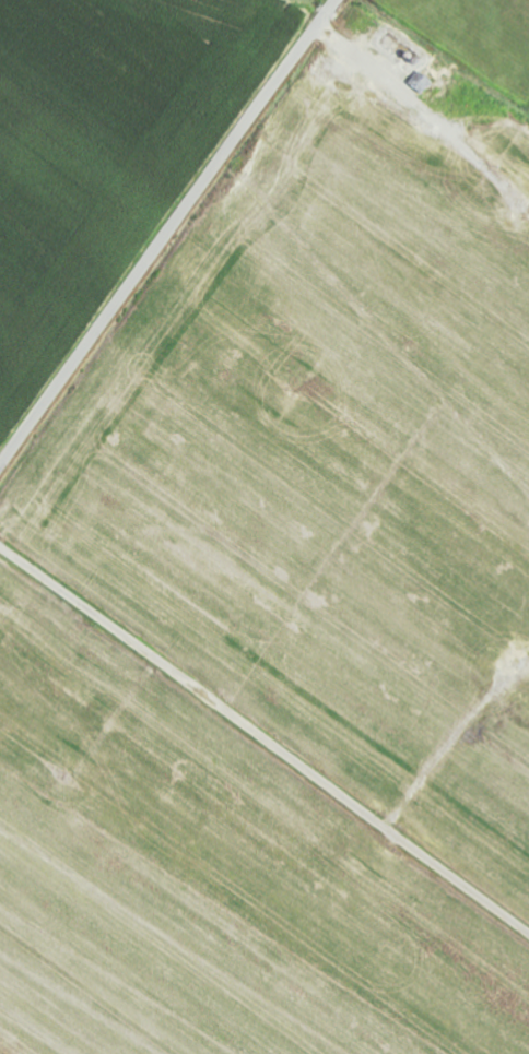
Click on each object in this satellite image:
park: (502, 54)
road: (165, 230)
road: (264, 738)

